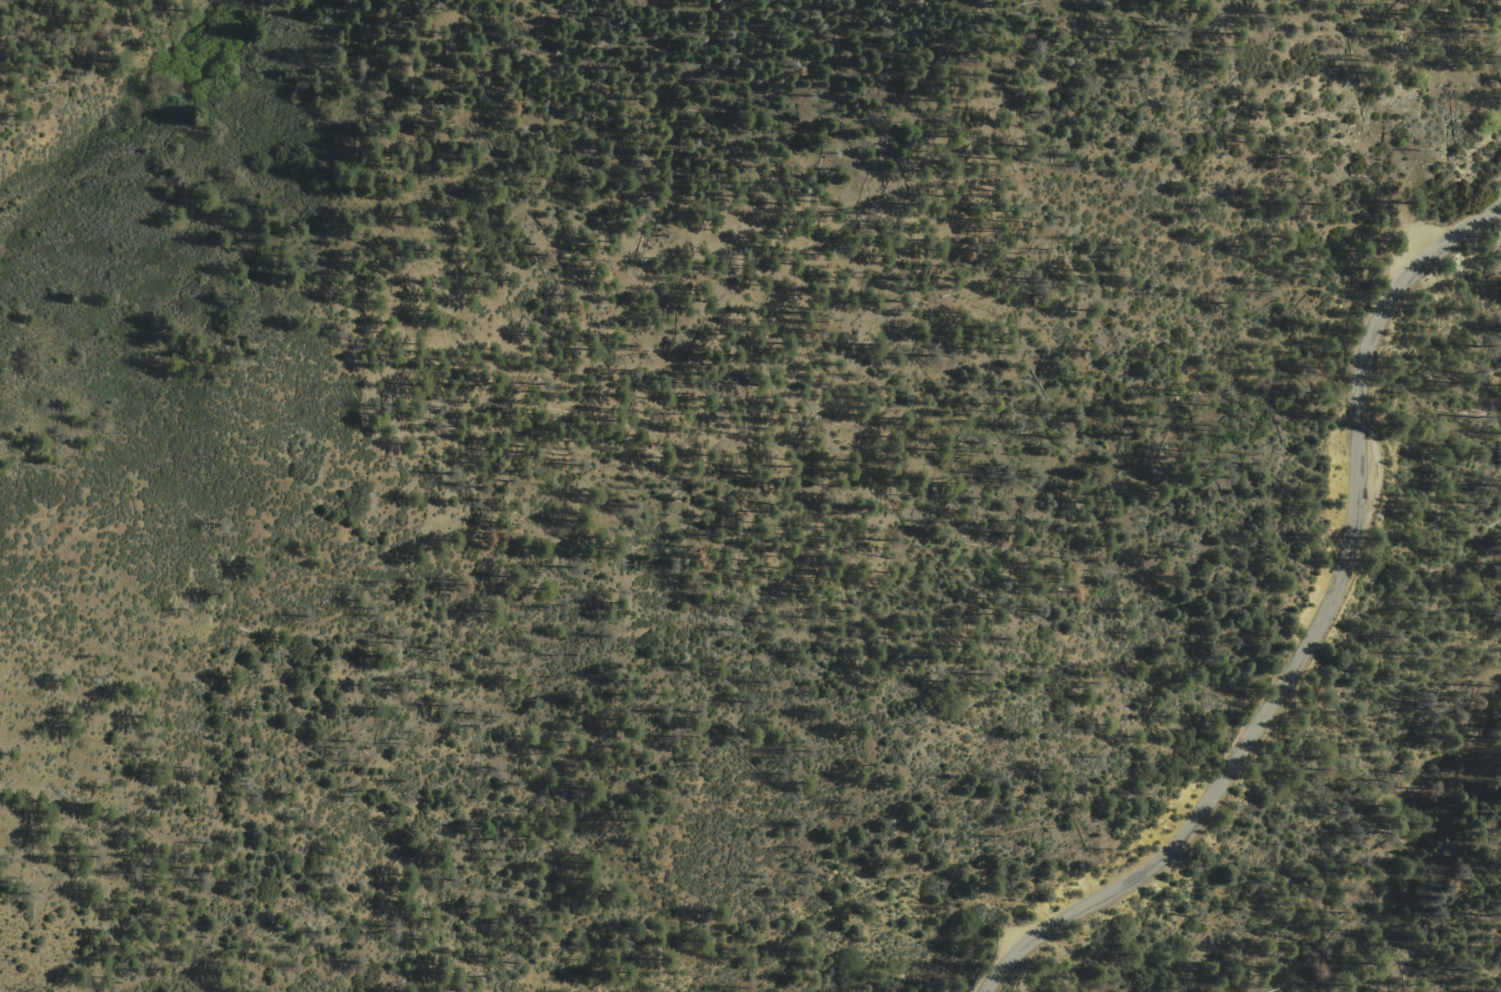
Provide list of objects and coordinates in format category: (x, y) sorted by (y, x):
parking lot: (1429, 245)
road: (1315, 636)

